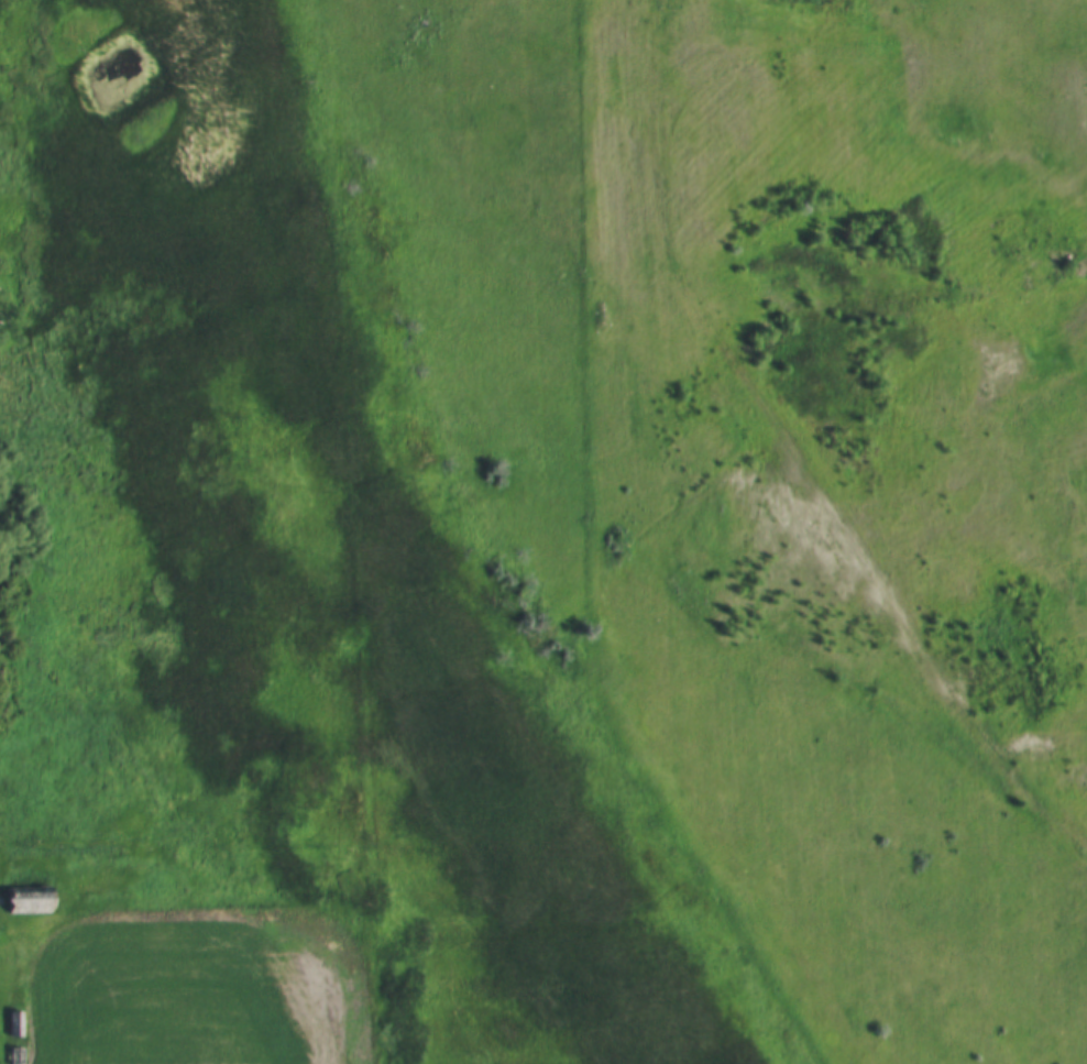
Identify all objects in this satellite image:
road: (793, 458)
building: (22, 900)
building: (12, 1024)
building: (12, 1056)

